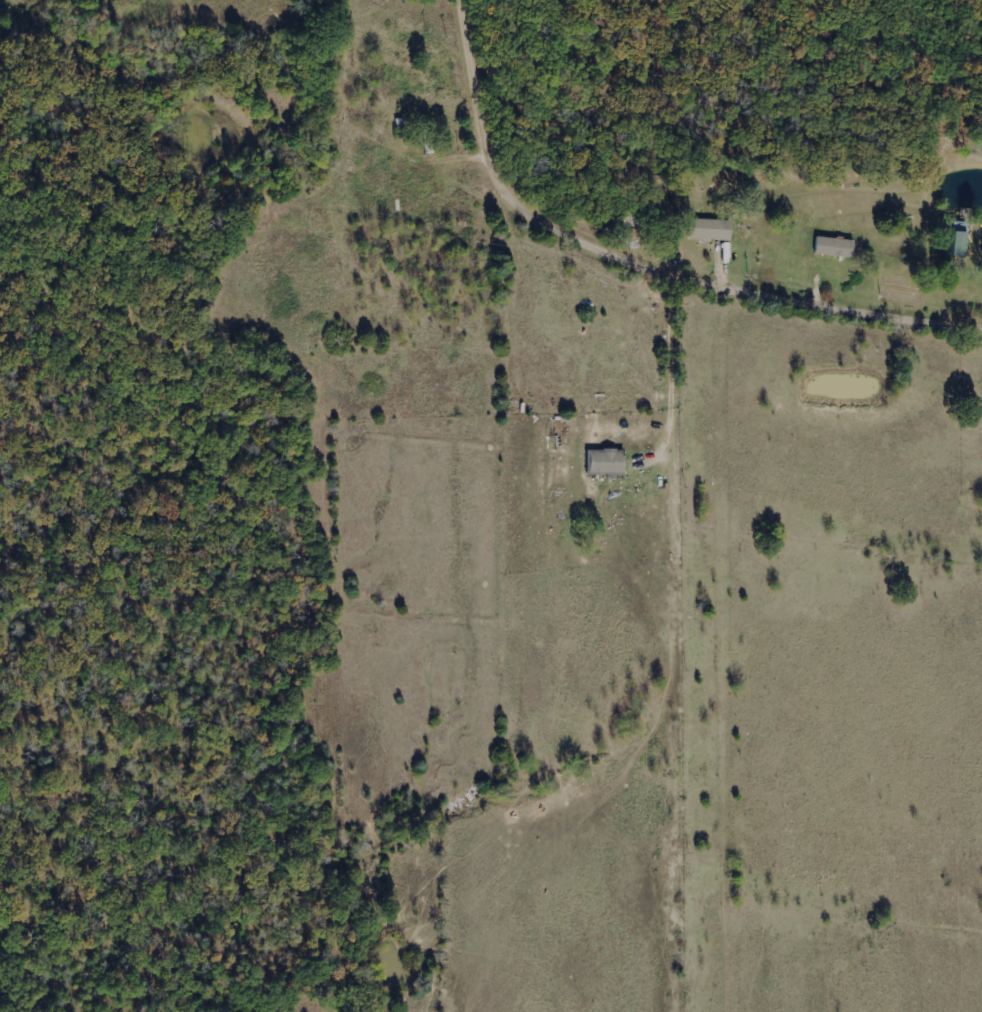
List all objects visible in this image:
building: (712, 230)
building: (960, 245)
building: (835, 247)
road: (639, 263)
building: (606, 462)

